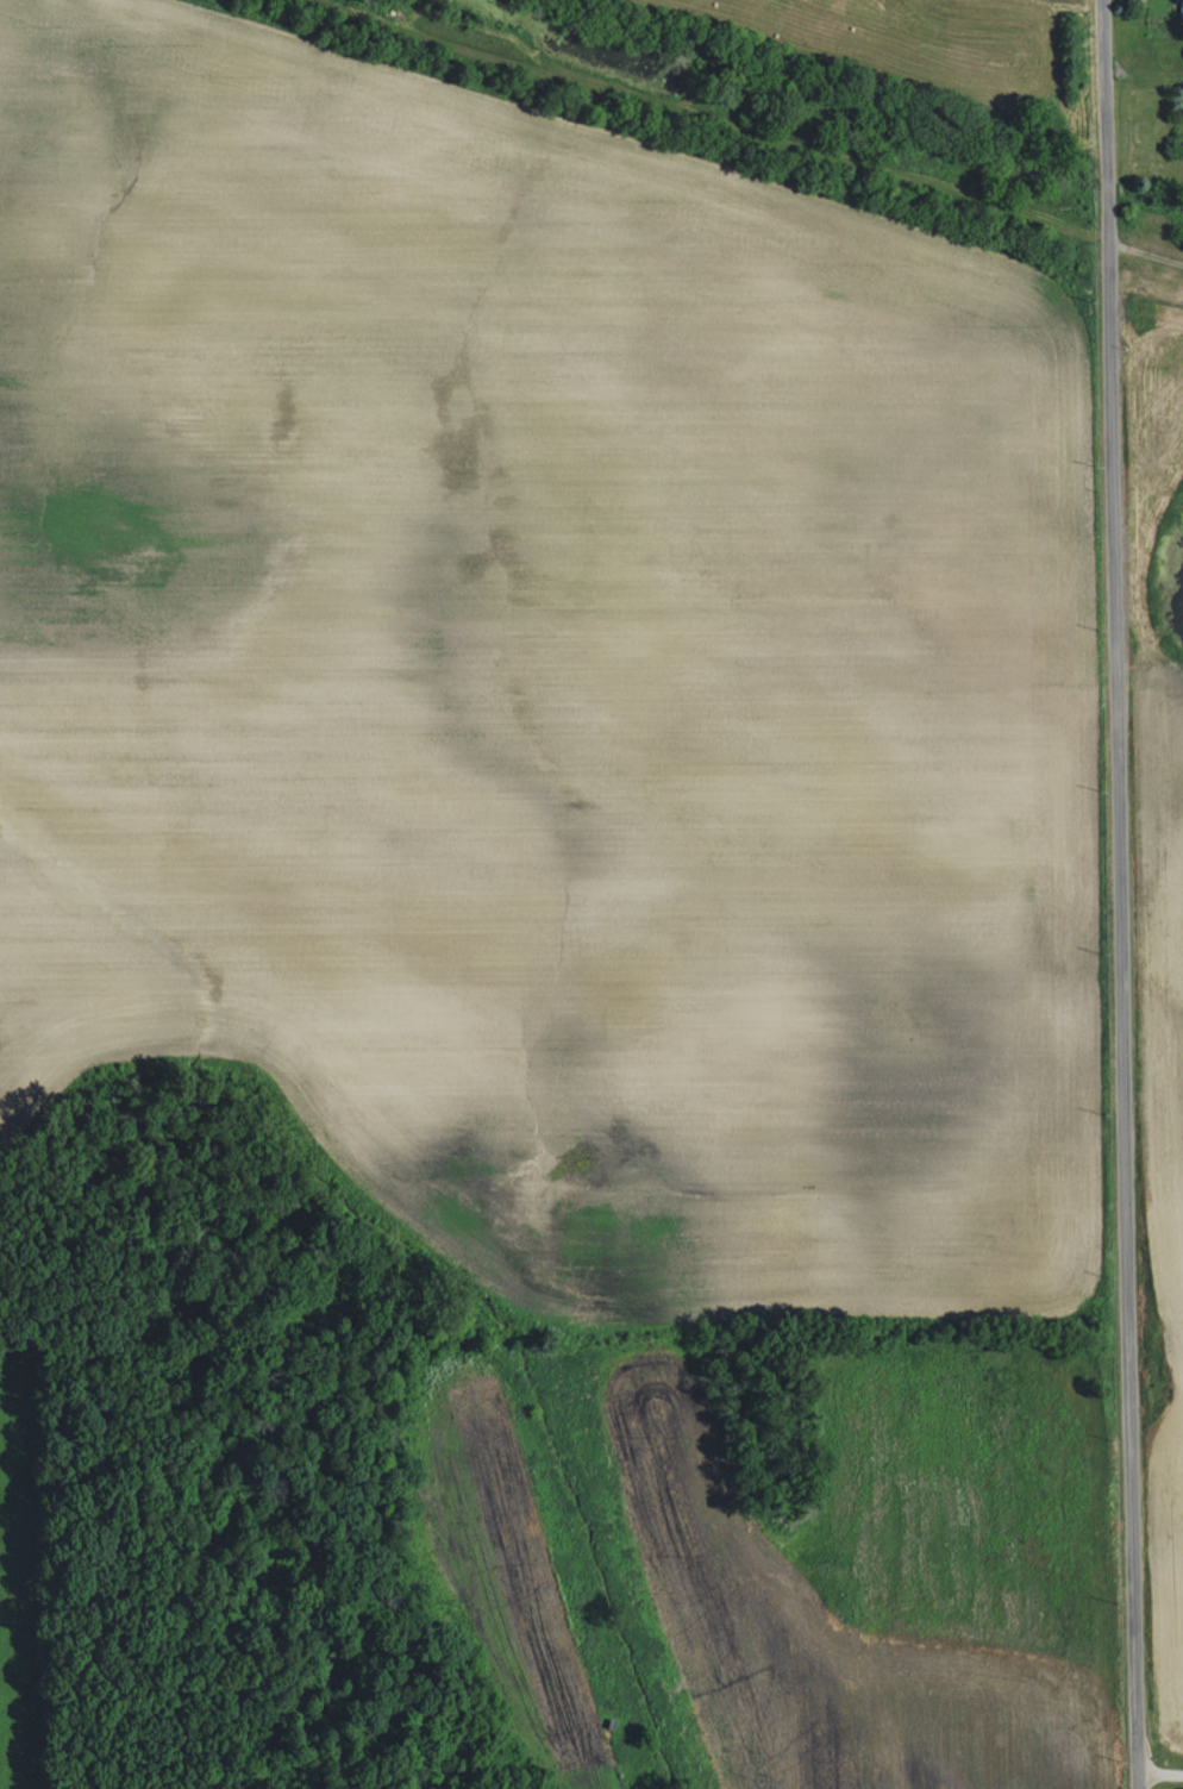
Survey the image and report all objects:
building: (1182, 10)
road: (1122, 894)
road: (1163, 1778)

